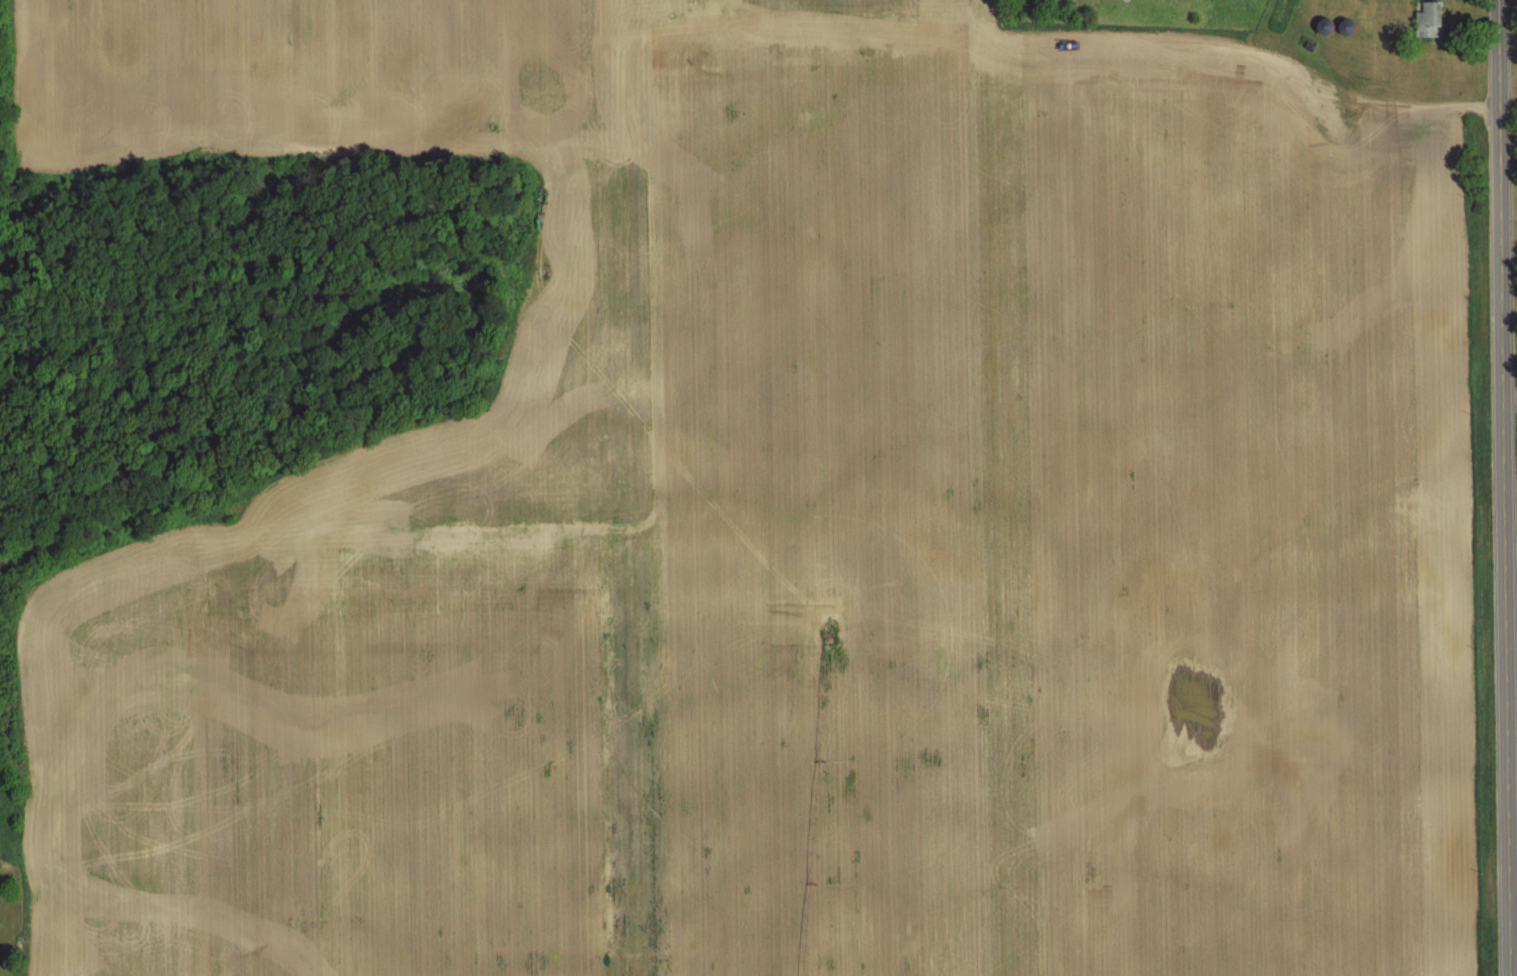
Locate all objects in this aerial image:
building: (1427, 20)
road: (1507, 488)

